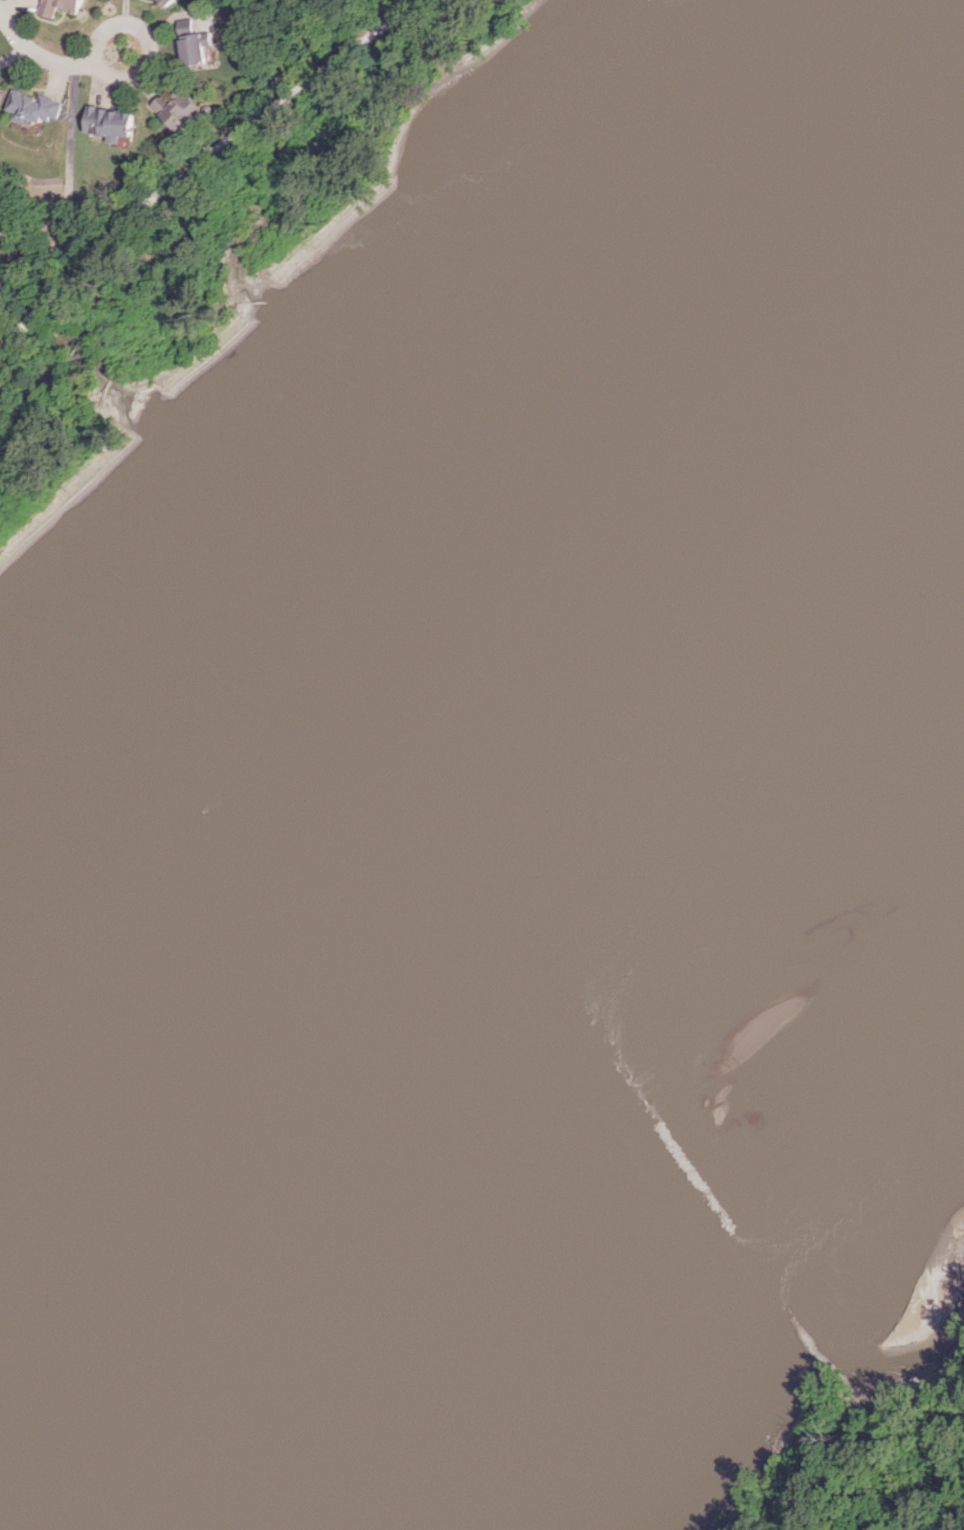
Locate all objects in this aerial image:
building: (167, 2)
building: (59, 6)
road: (148, 38)
building: (194, 43)
road: (44, 53)
building: (33, 107)
building: (178, 108)
building: (112, 124)
road: (204, 168)
building: (60, 238)
river: (452, 557)

